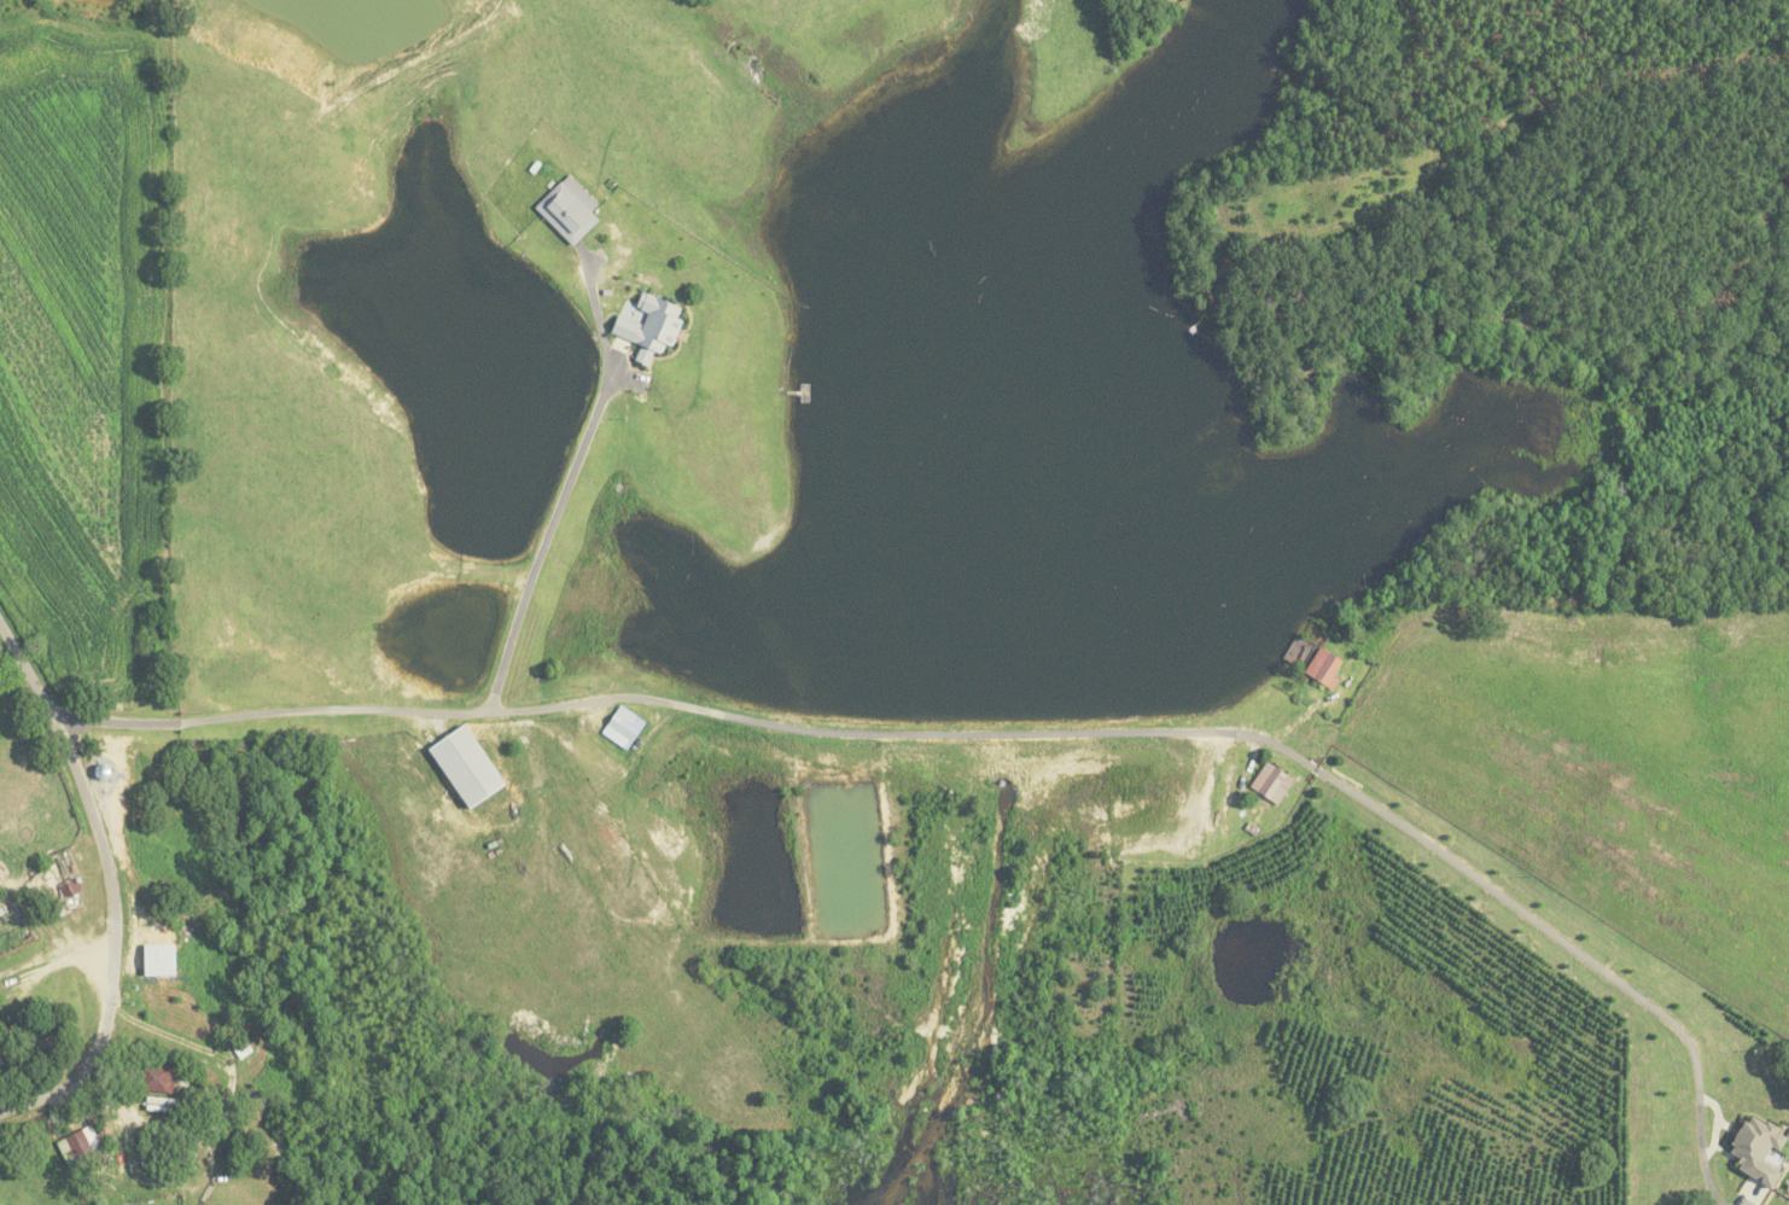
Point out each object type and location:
building: (563, 210)
building: (643, 326)
road: (565, 488)
building: (1319, 668)
road: (266, 714)
road: (1217, 730)
building: (460, 767)
building: (1268, 782)
road: (106, 887)
building: (153, 1078)
building: (76, 1140)
building: (1752, 1155)

